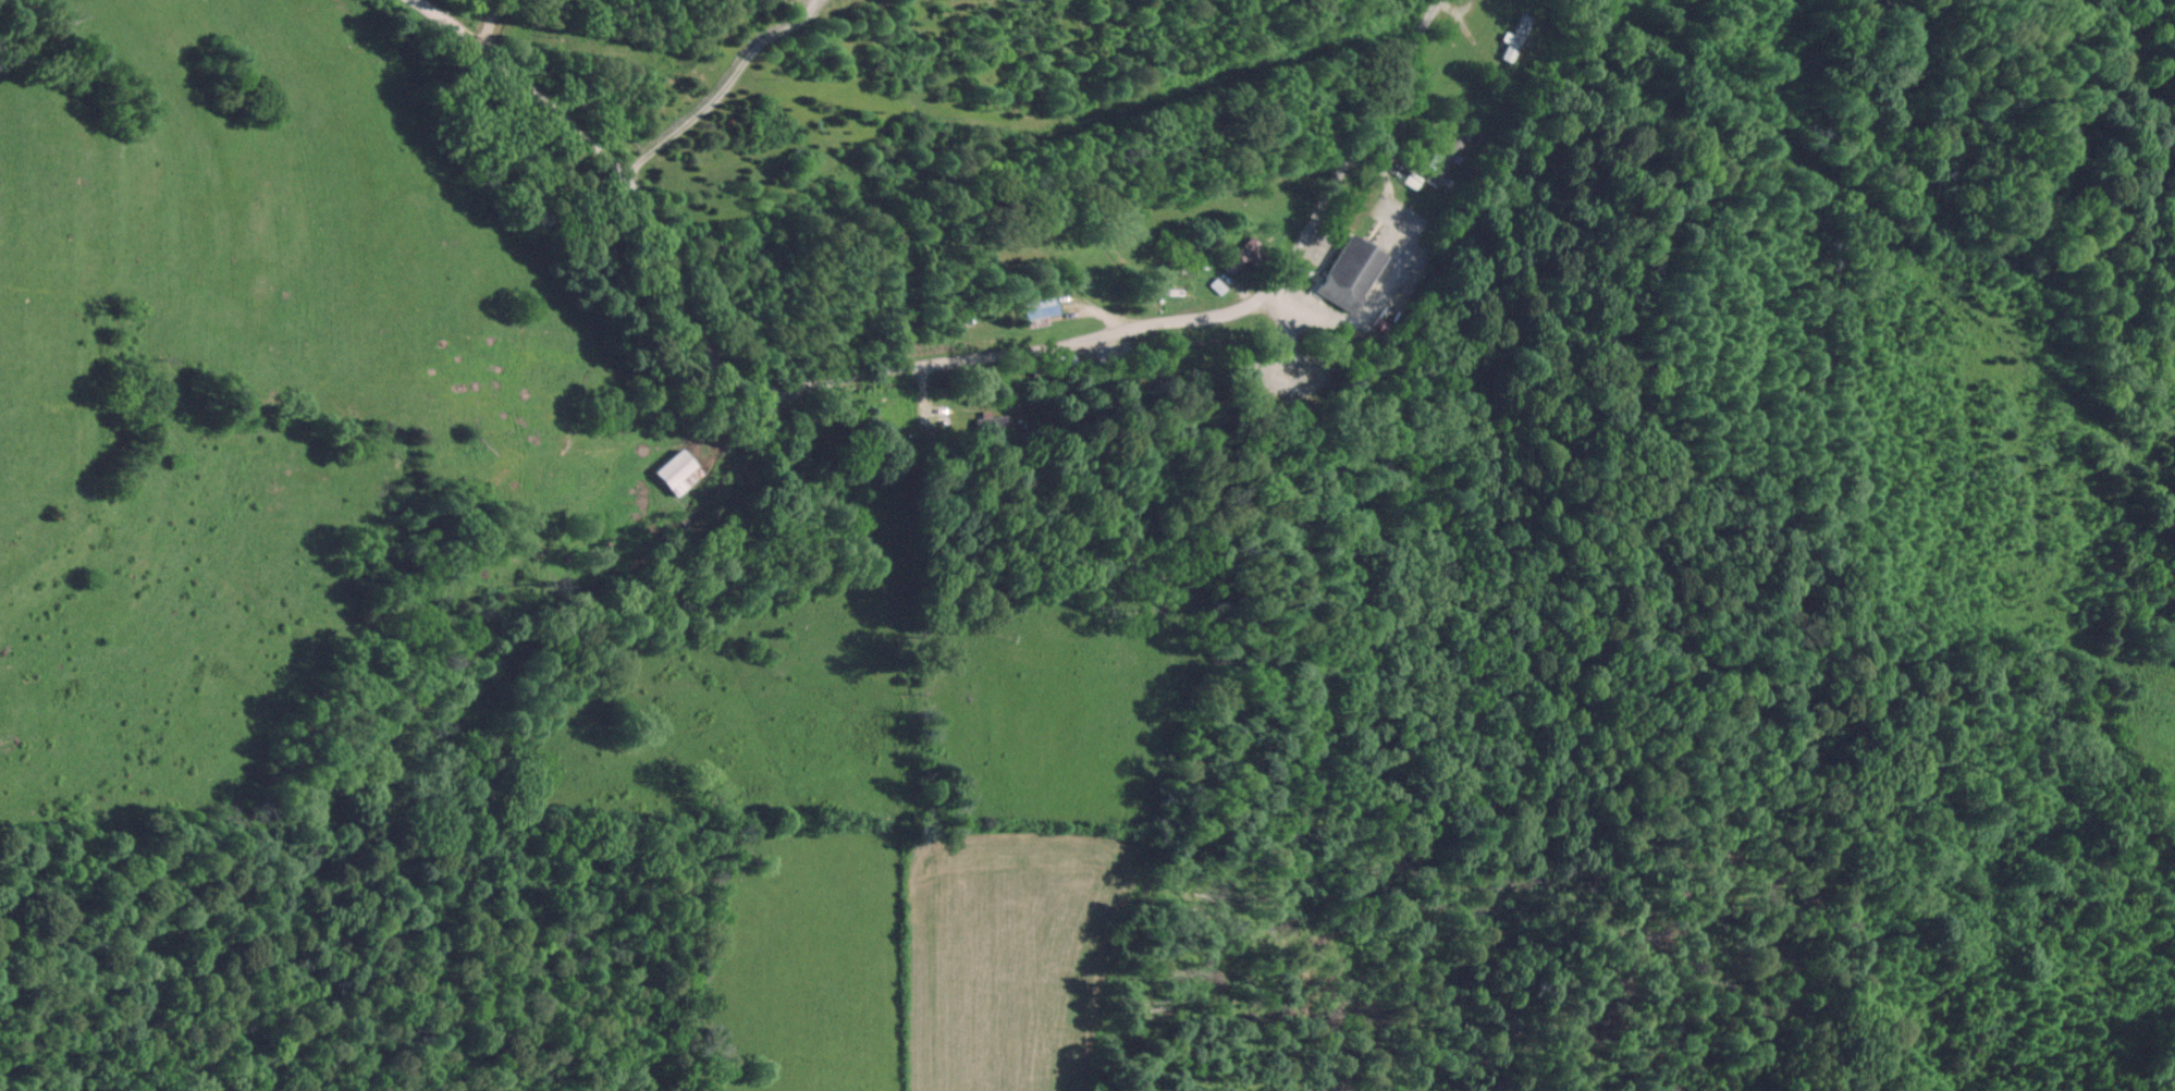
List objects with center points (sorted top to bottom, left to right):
building: (1514, 36)
road: (709, 83)
building: (1237, 257)
building: (1348, 271)
building: (1037, 305)
road: (923, 363)
building: (675, 470)

